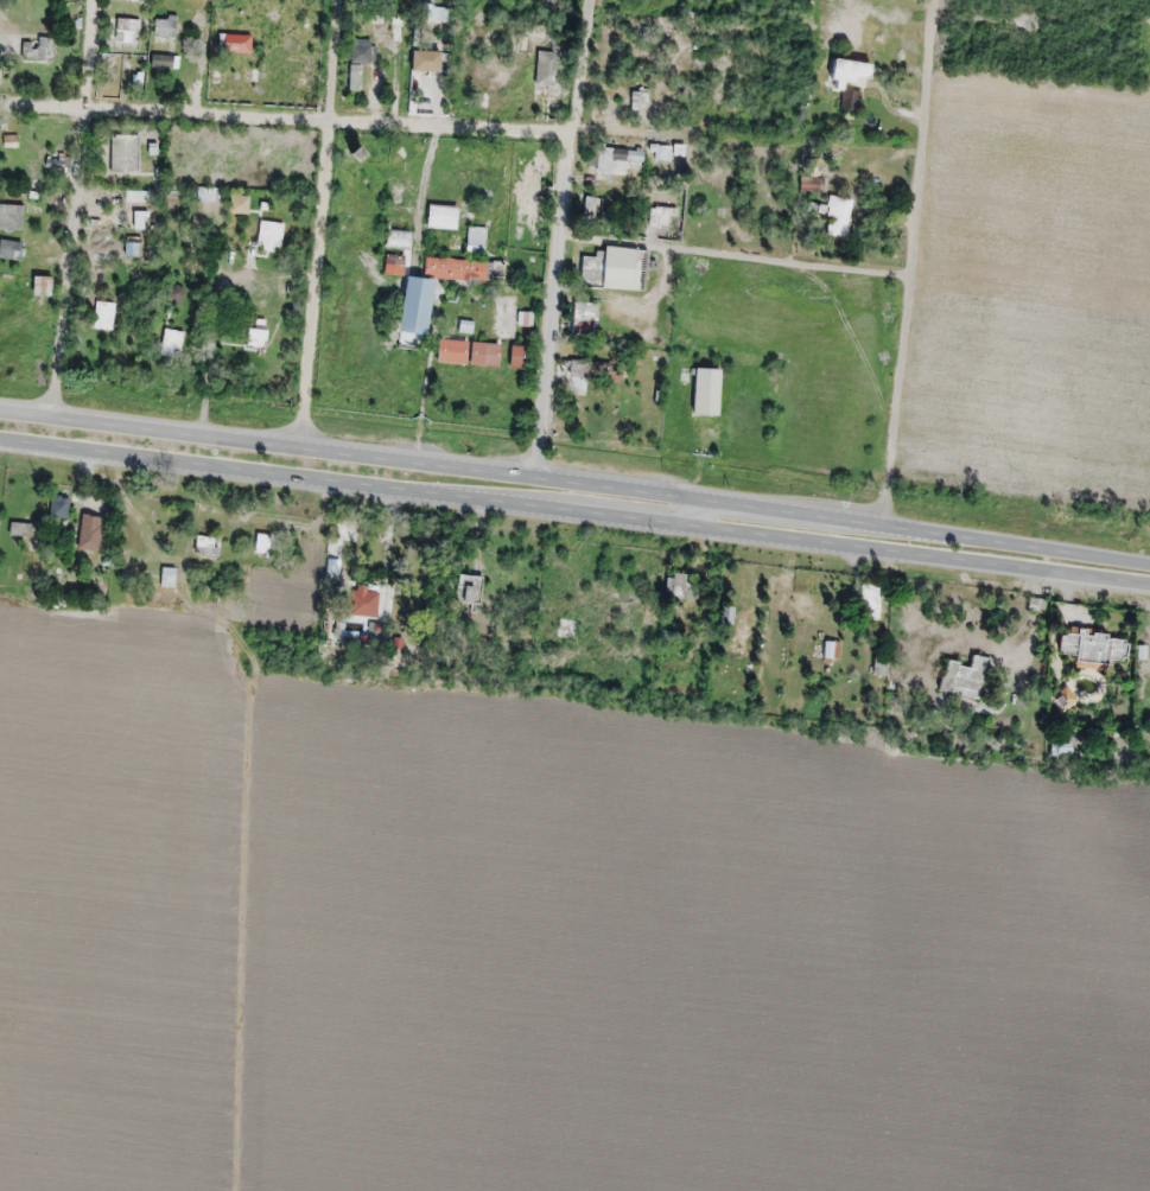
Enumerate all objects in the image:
building: (424, 59)
building: (592, 209)
road: (76, 214)
building: (441, 216)
building: (476, 240)
road: (561, 246)
building: (392, 262)
building: (434, 265)
building: (624, 267)
road: (913, 269)
building: (451, 350)
building: (706, 389)

